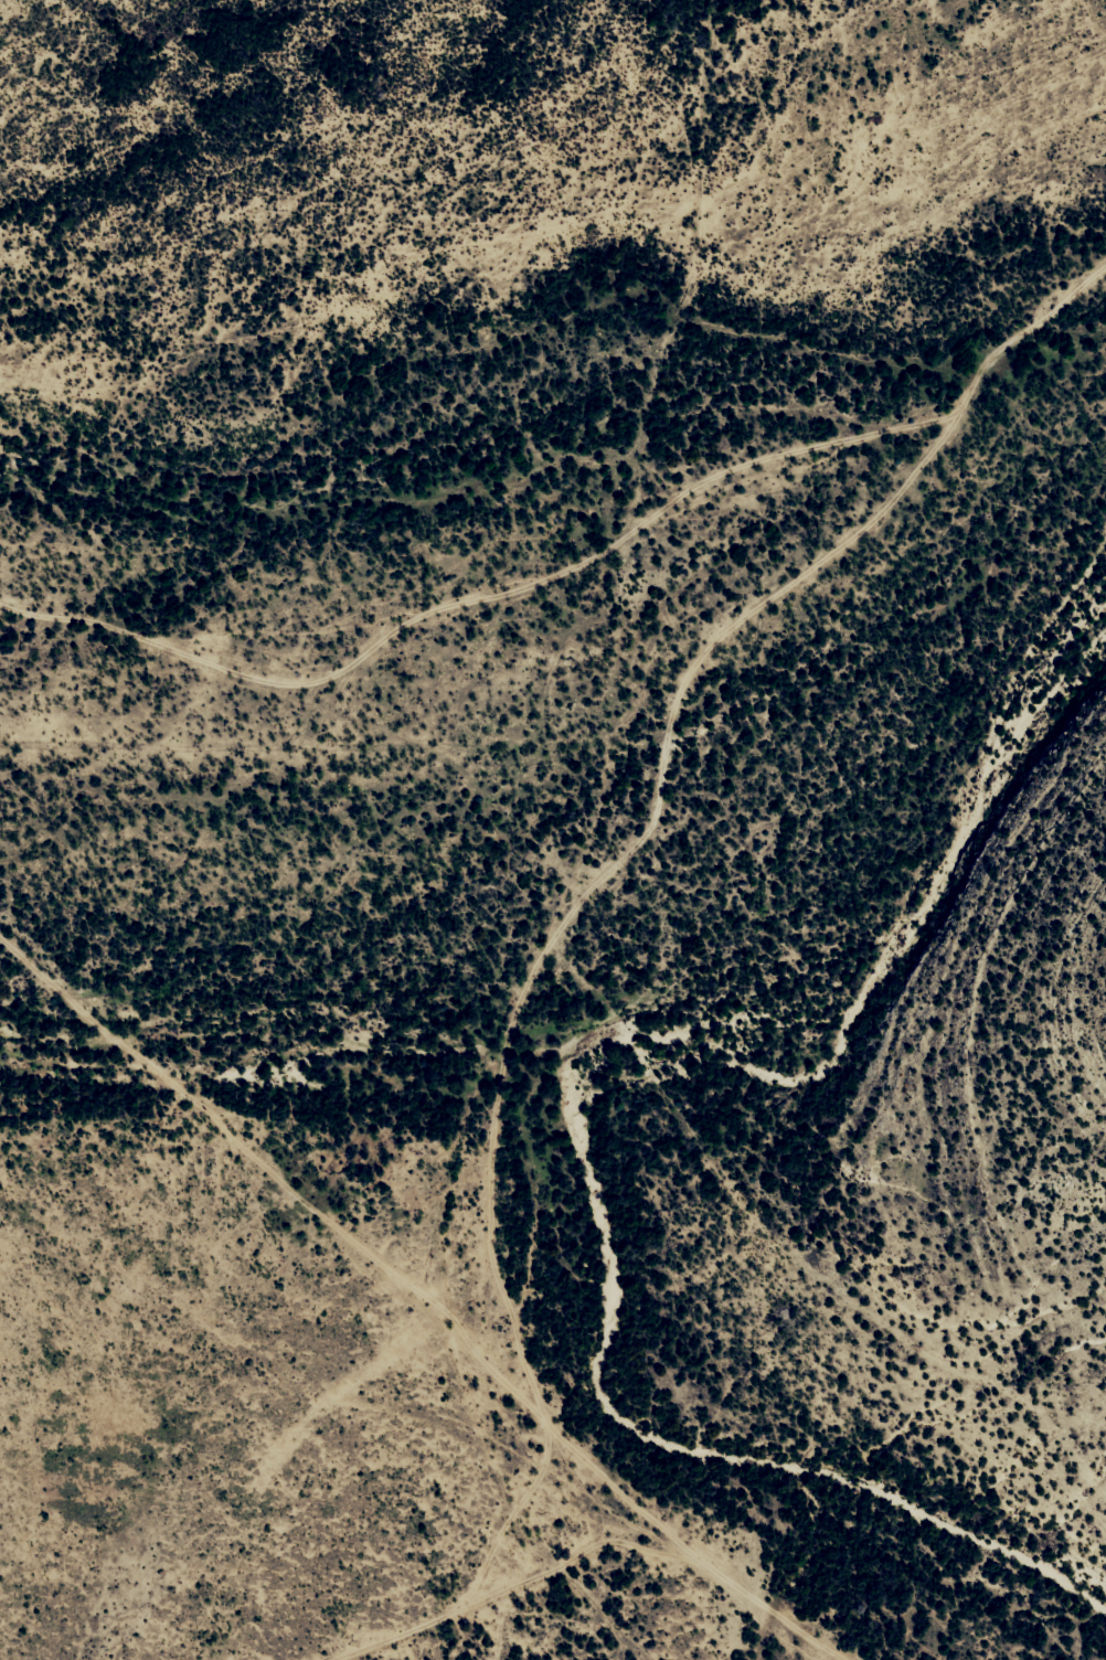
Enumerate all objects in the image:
road: (582, 568)
road: (663, 746)
road: (534, 891)
road: (501, 1613)

